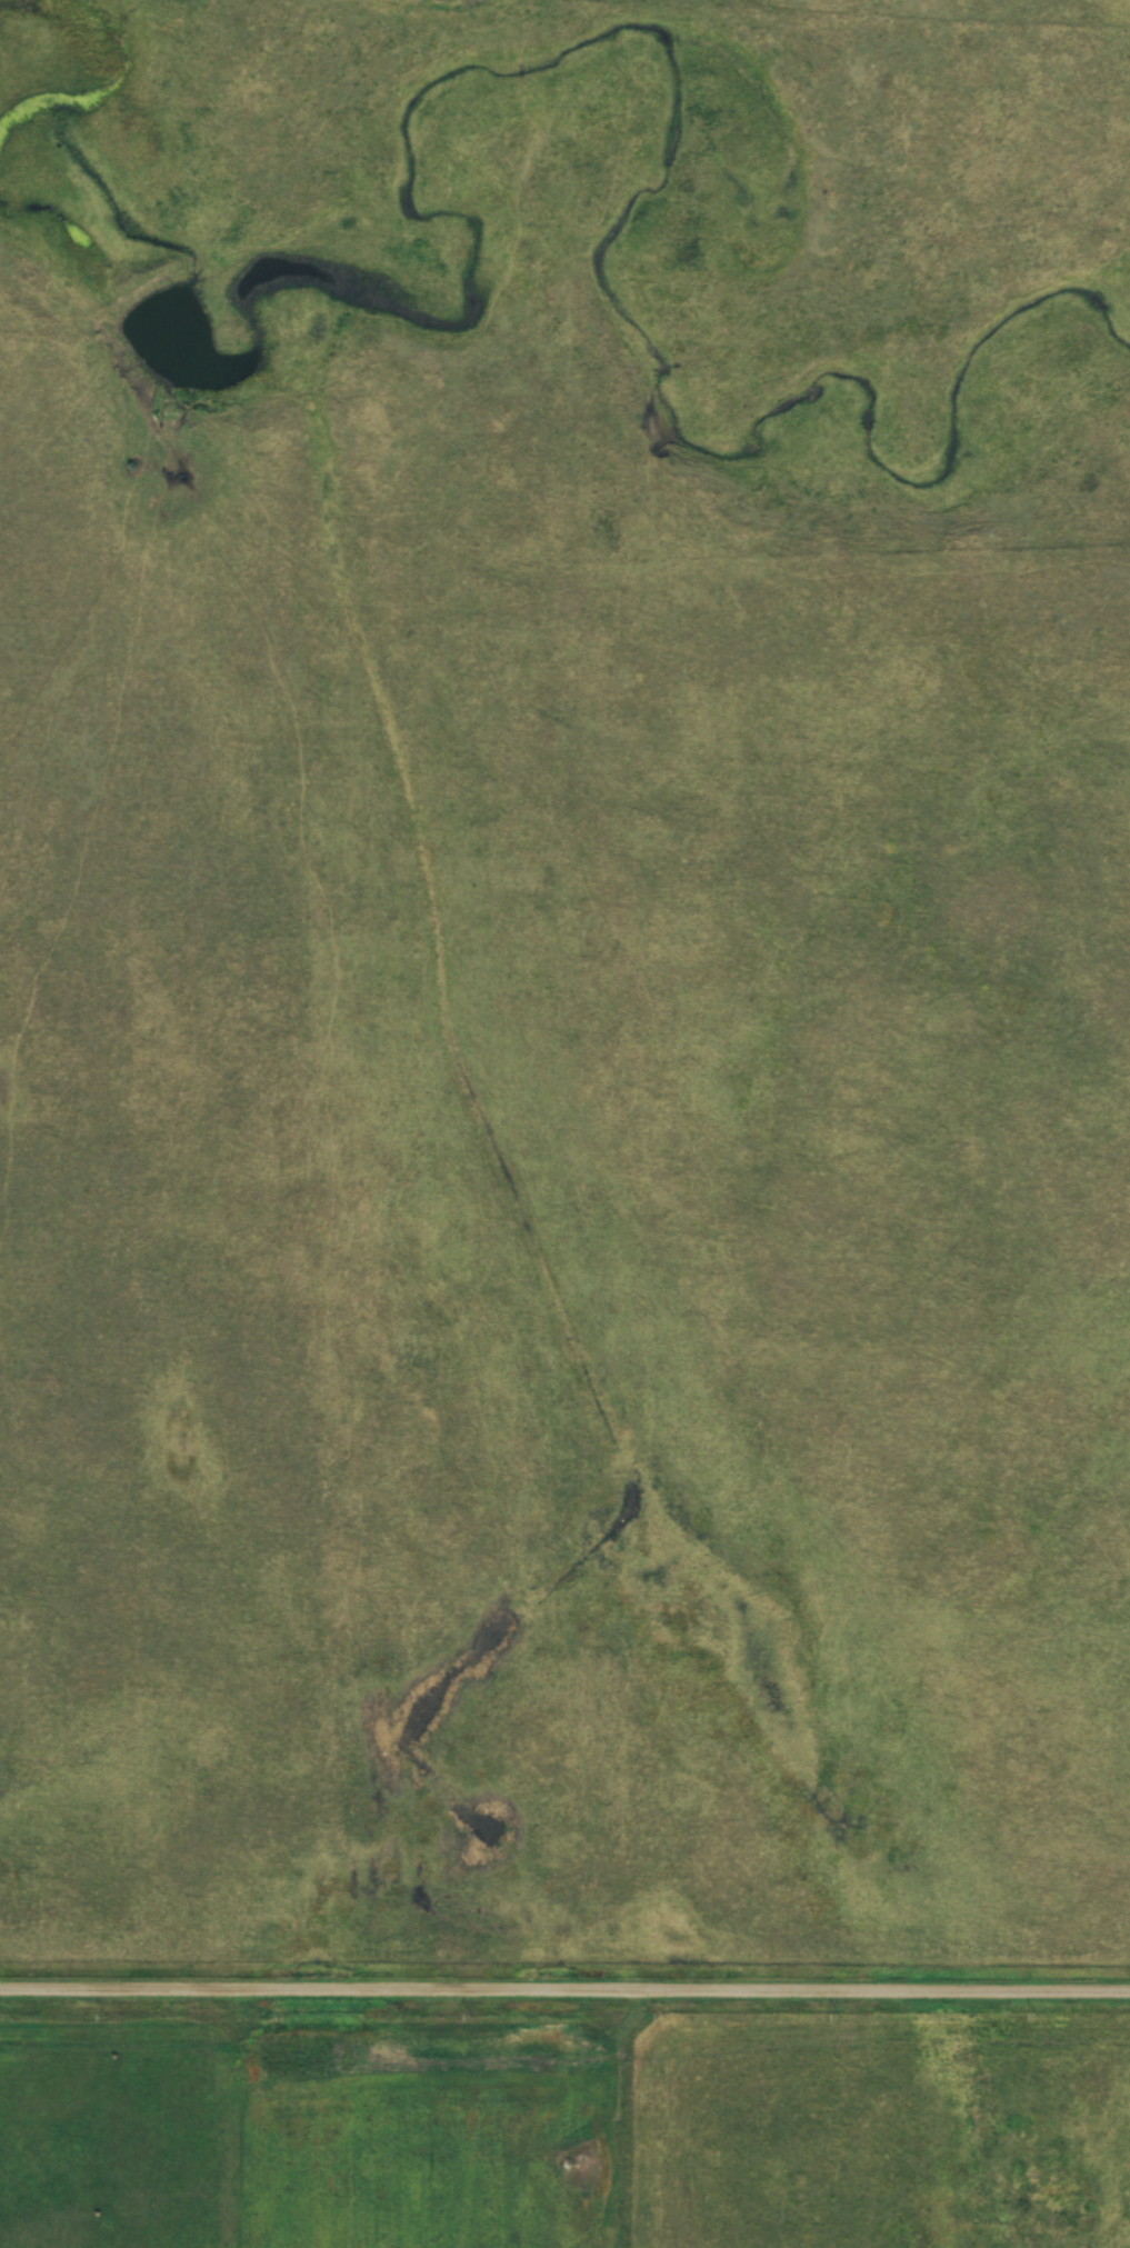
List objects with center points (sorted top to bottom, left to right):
road: (564, 1991)

